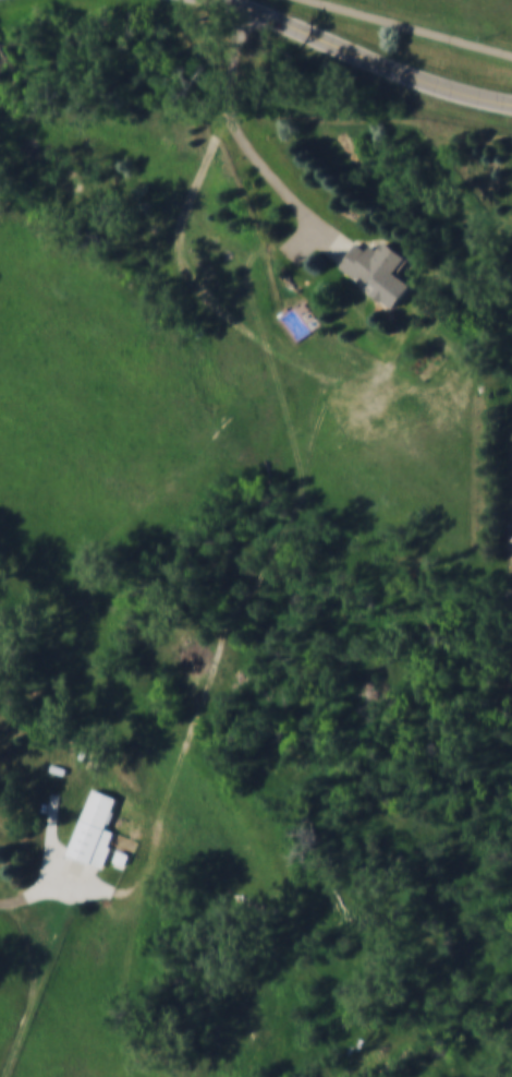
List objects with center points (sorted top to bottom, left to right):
road: (412, 27)
road: (361, 53)
road: (242, 135)
building: (373, 262)
building: (95, 827)
road: (36, 894)

